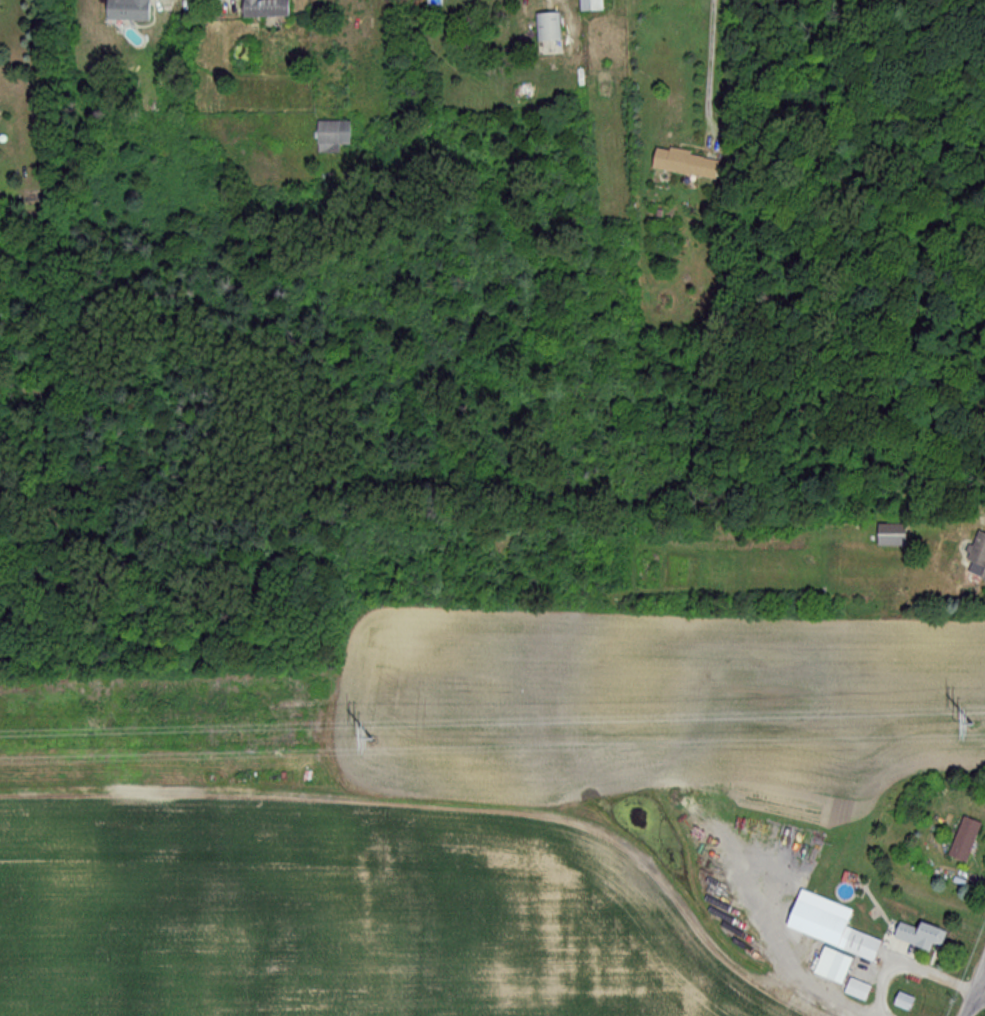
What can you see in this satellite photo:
building: (434, 2)
building: (586, 5)
building: (262, 8)
building: (126, 10)
building: (546, 27)
road: (711, 61)
building: (330, 135)
building: (683, 163)
building: (889, 535)
building: (976, 557)
power tower: (973, 732)
power tower: (373, 746)
building: (962, 839)
building: (827, 931)
building: (915, 935)
road: (796, 964)
building: (829, 966)
road: (912, 974)
road: (981, 987)
building: (855, 990)
road: (975, 991)
building: (901, 1002)

